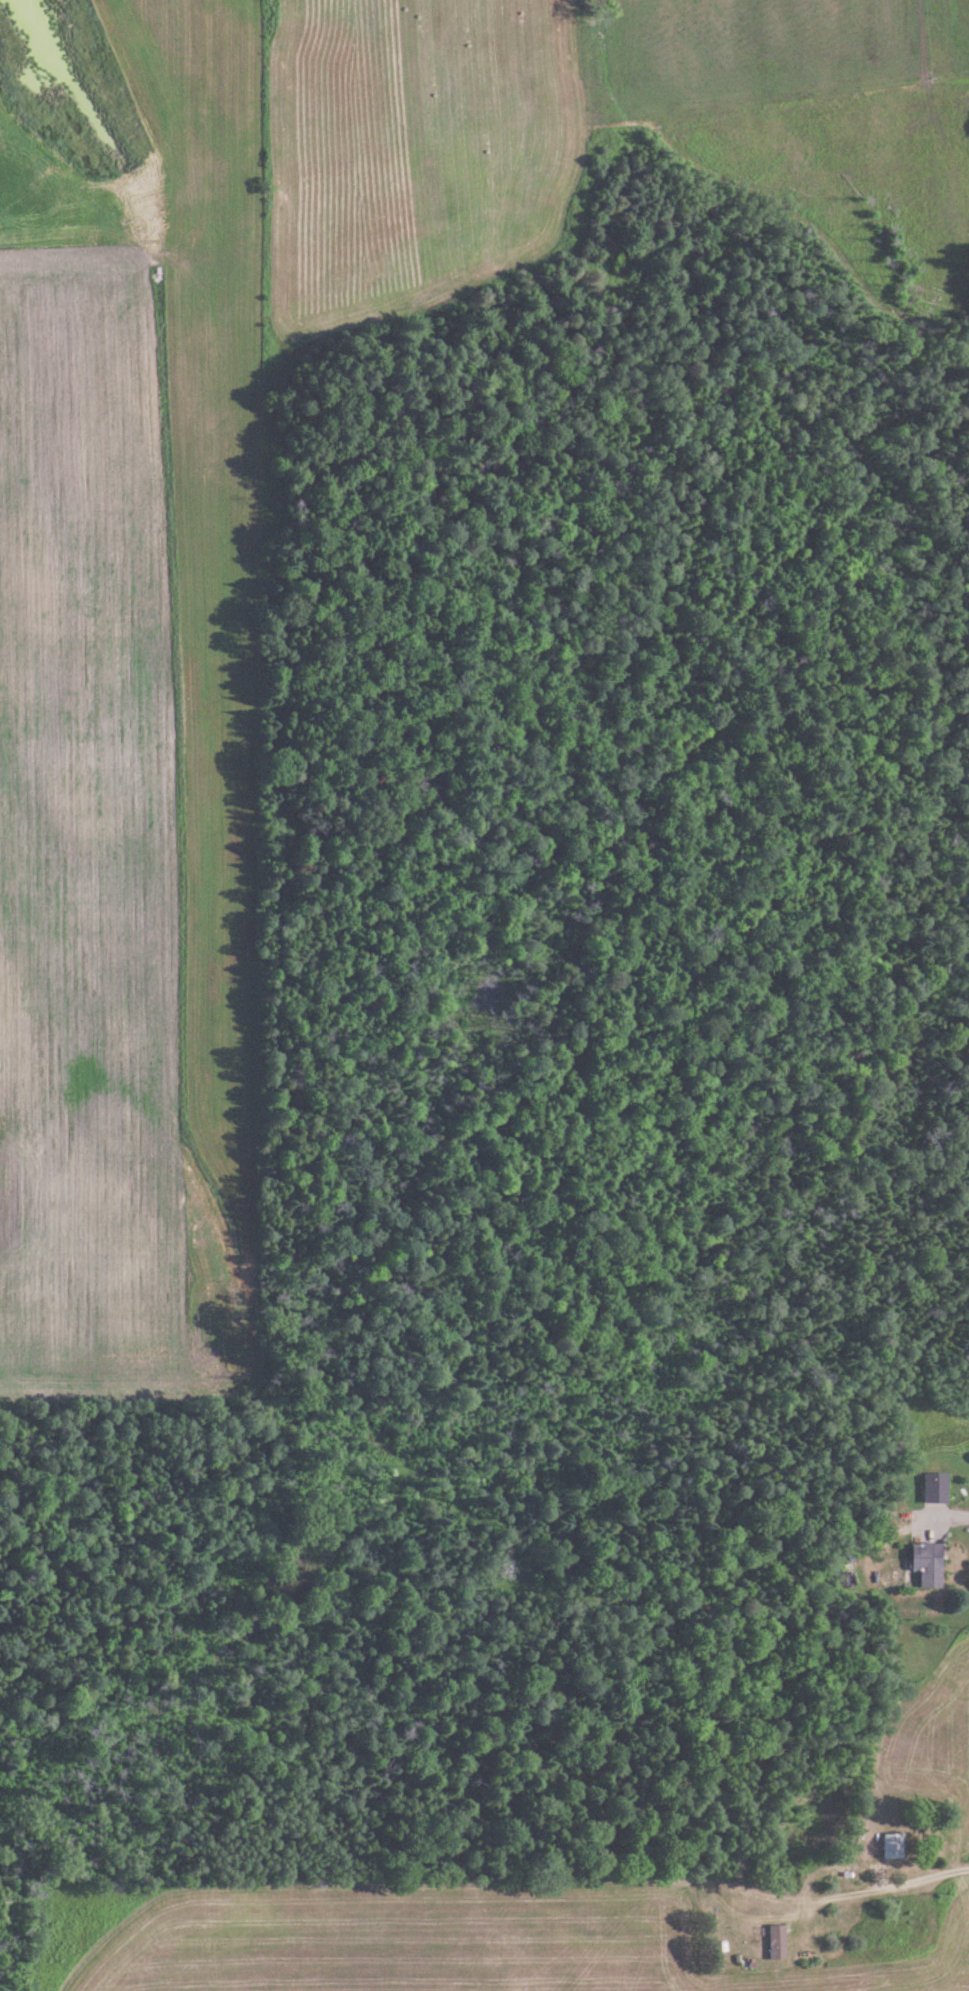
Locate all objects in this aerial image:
road: (896, 1446)
building: (938, 1488)
building: (928, 1563)
building: (847, 1580)
road: (689, 1636)
building: (895, 1847)
building: (778, 1942)

